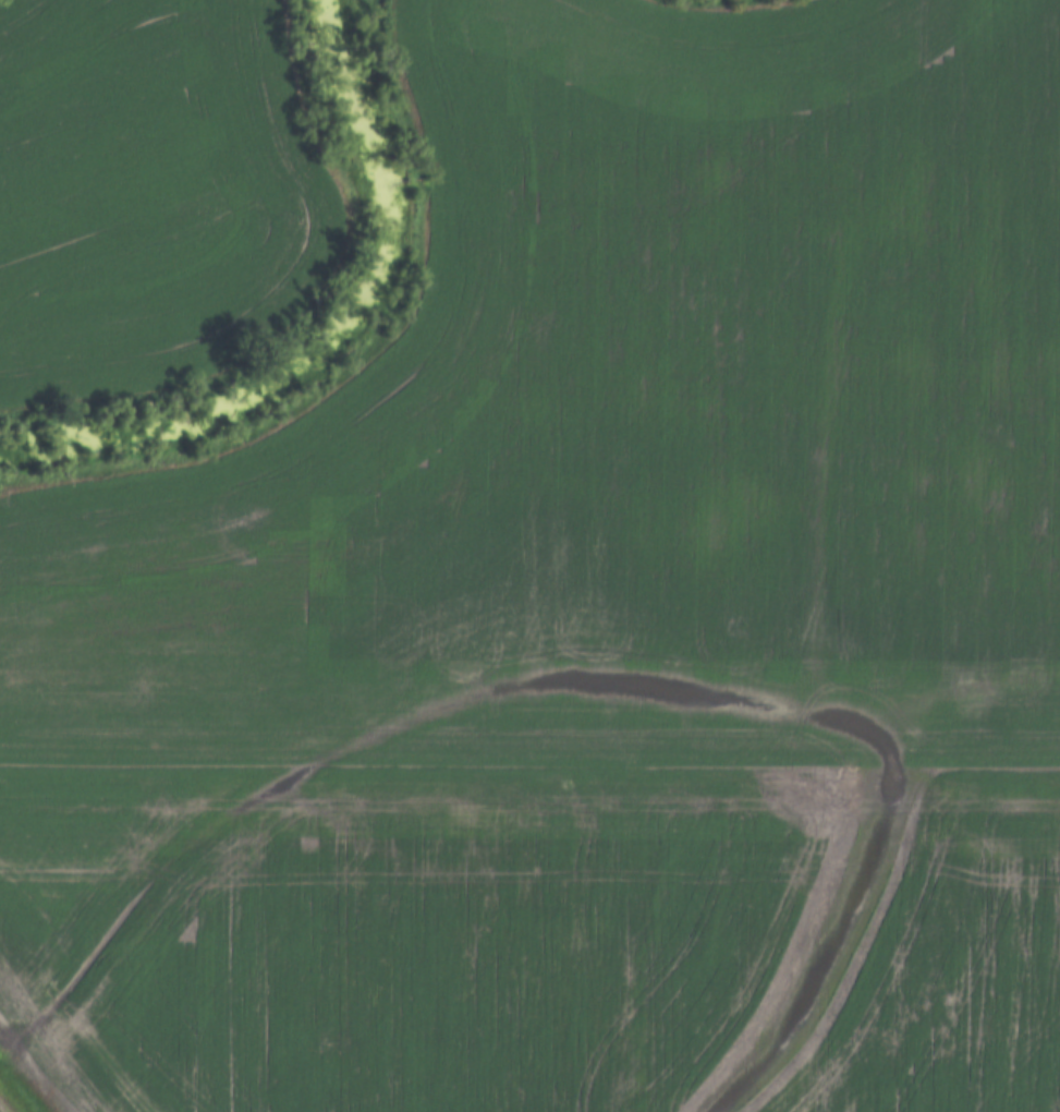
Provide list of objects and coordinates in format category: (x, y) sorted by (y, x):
crop: (148, 193)
crop: (629, 424)
crop: (402, 924)
crop: (954, 959)

